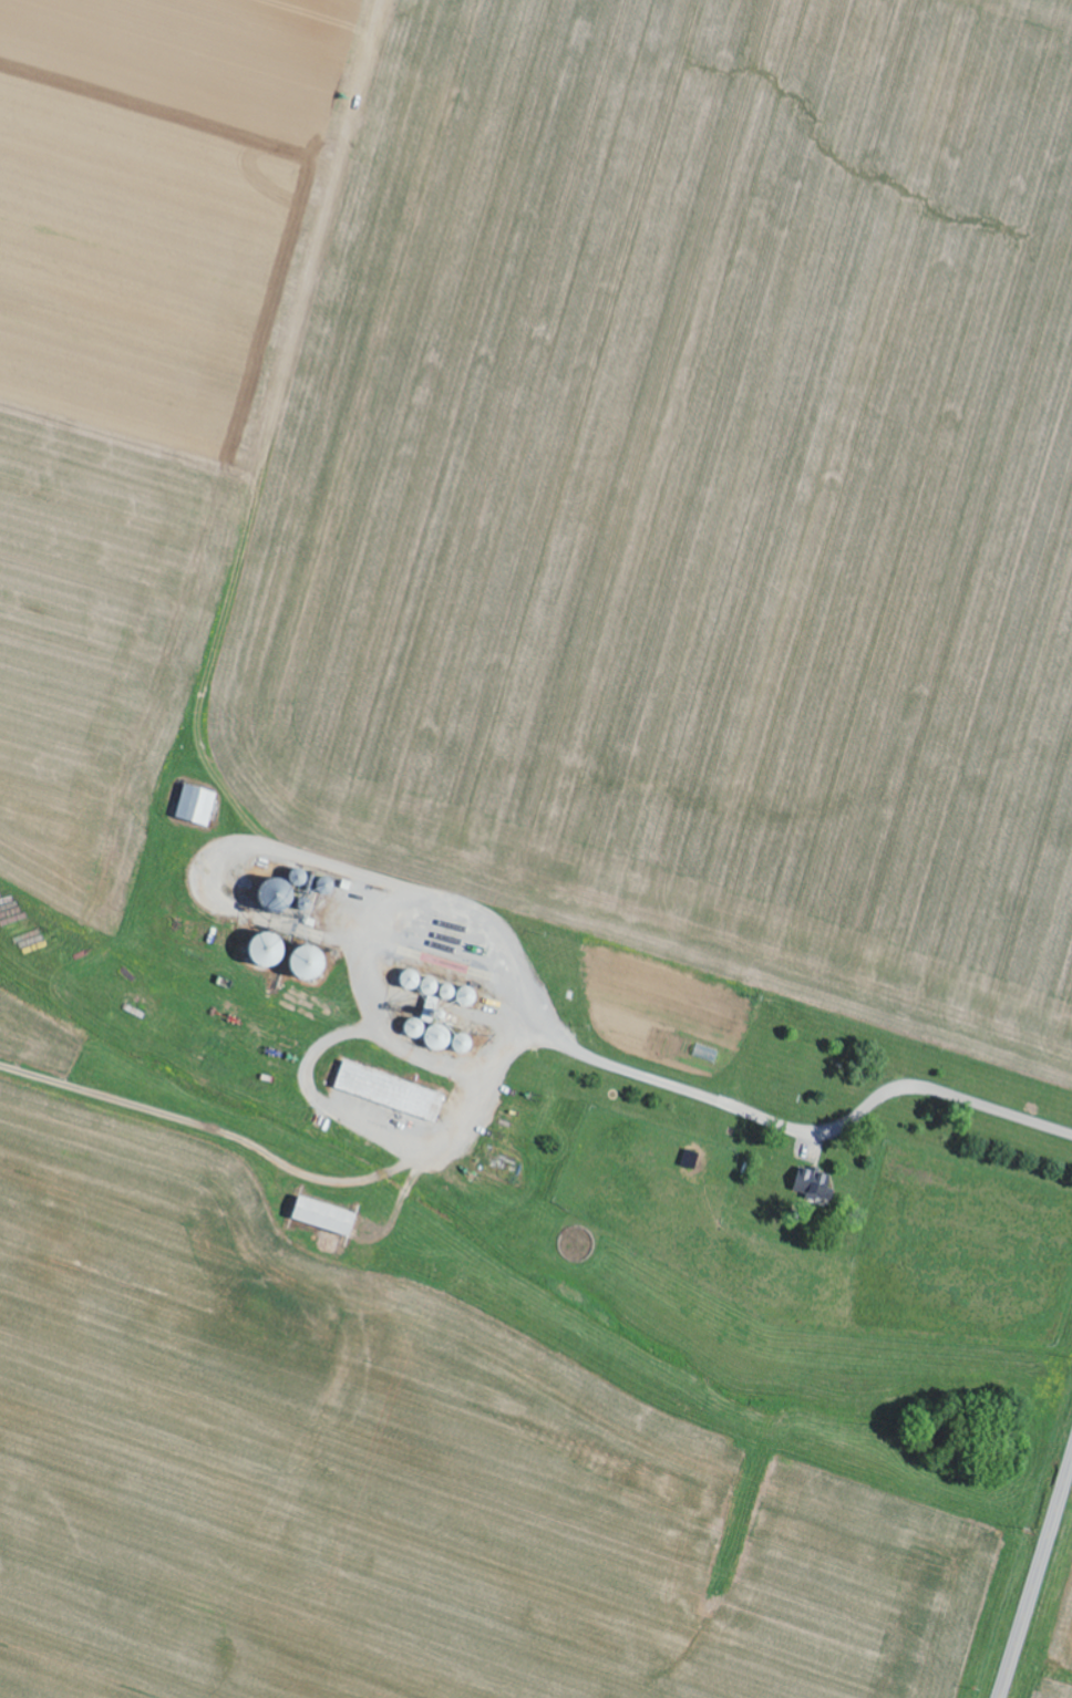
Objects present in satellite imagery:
building: (197, 805)
road: (529, 929)
building: (391, 1091)
building: (813, 1186)
building: (327, 1216)
road: (1035, 1576)
road: (1050, 1609)

